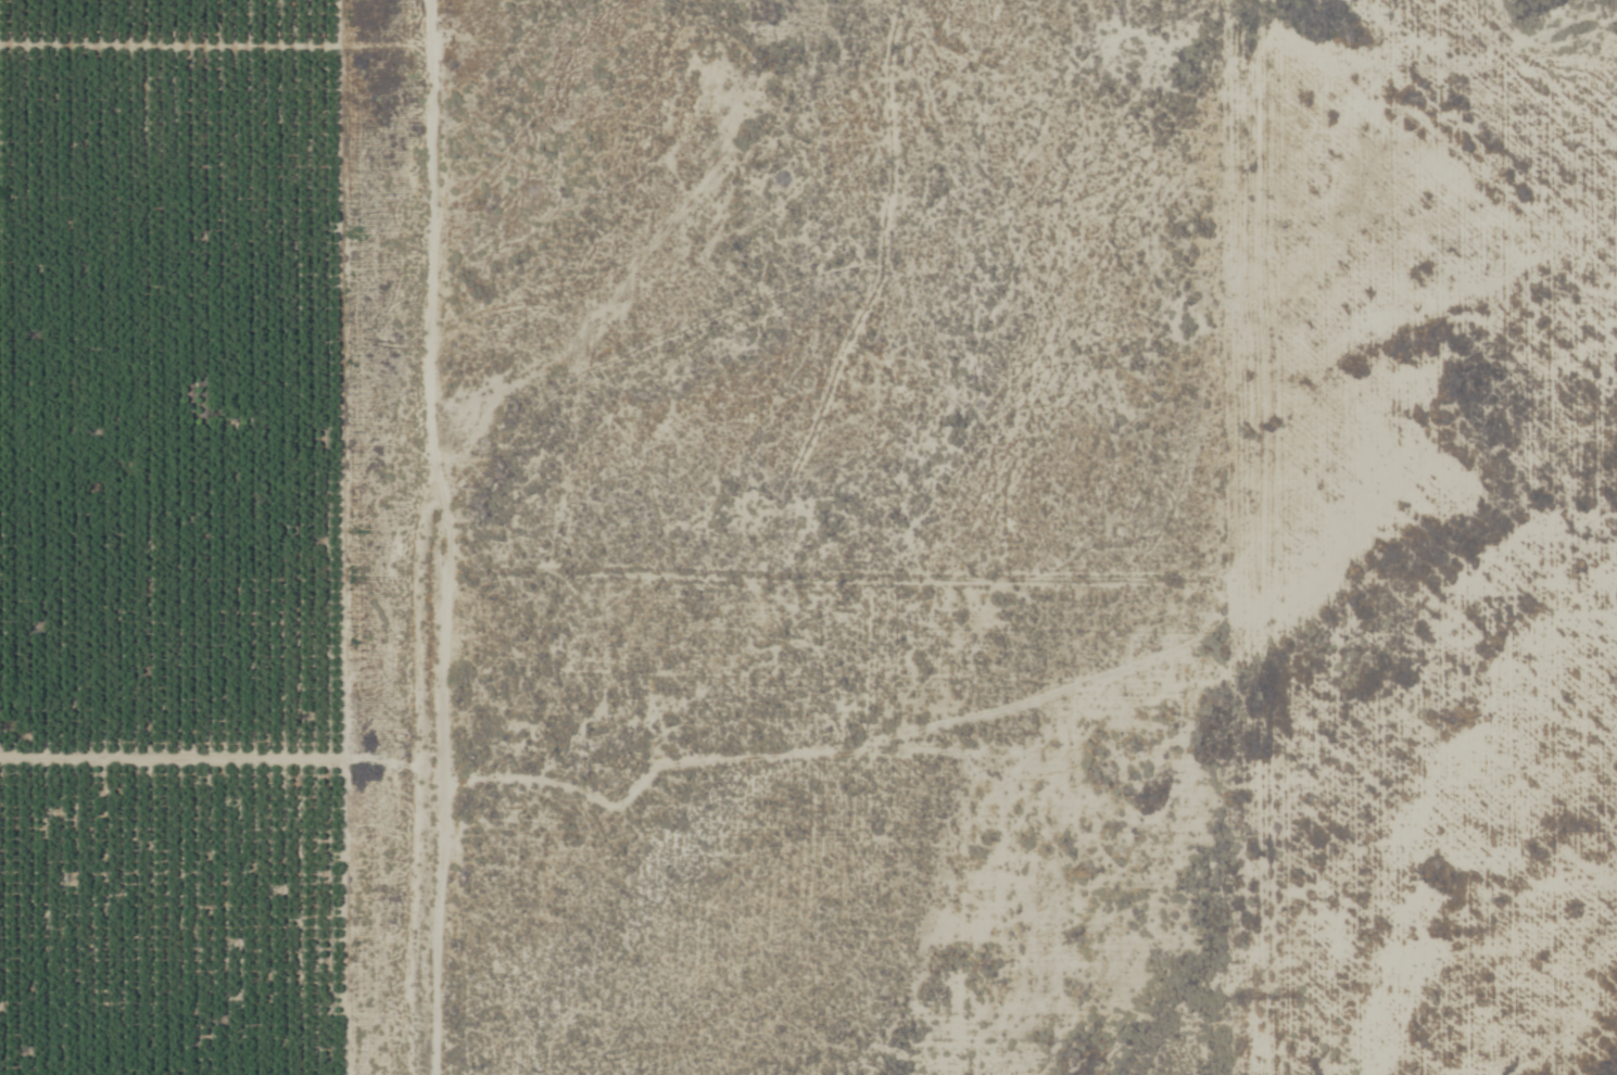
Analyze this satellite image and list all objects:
road: (416, 536)
road: (919, 542)
crop: (1544, 1073)

